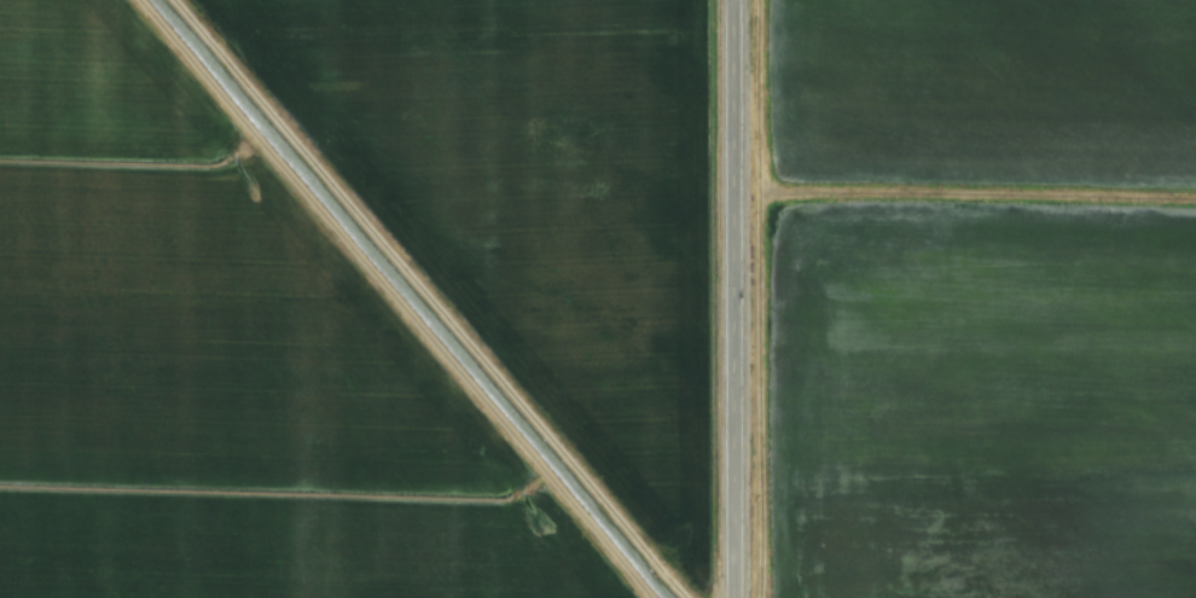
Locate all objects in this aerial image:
road: (731, 298)

